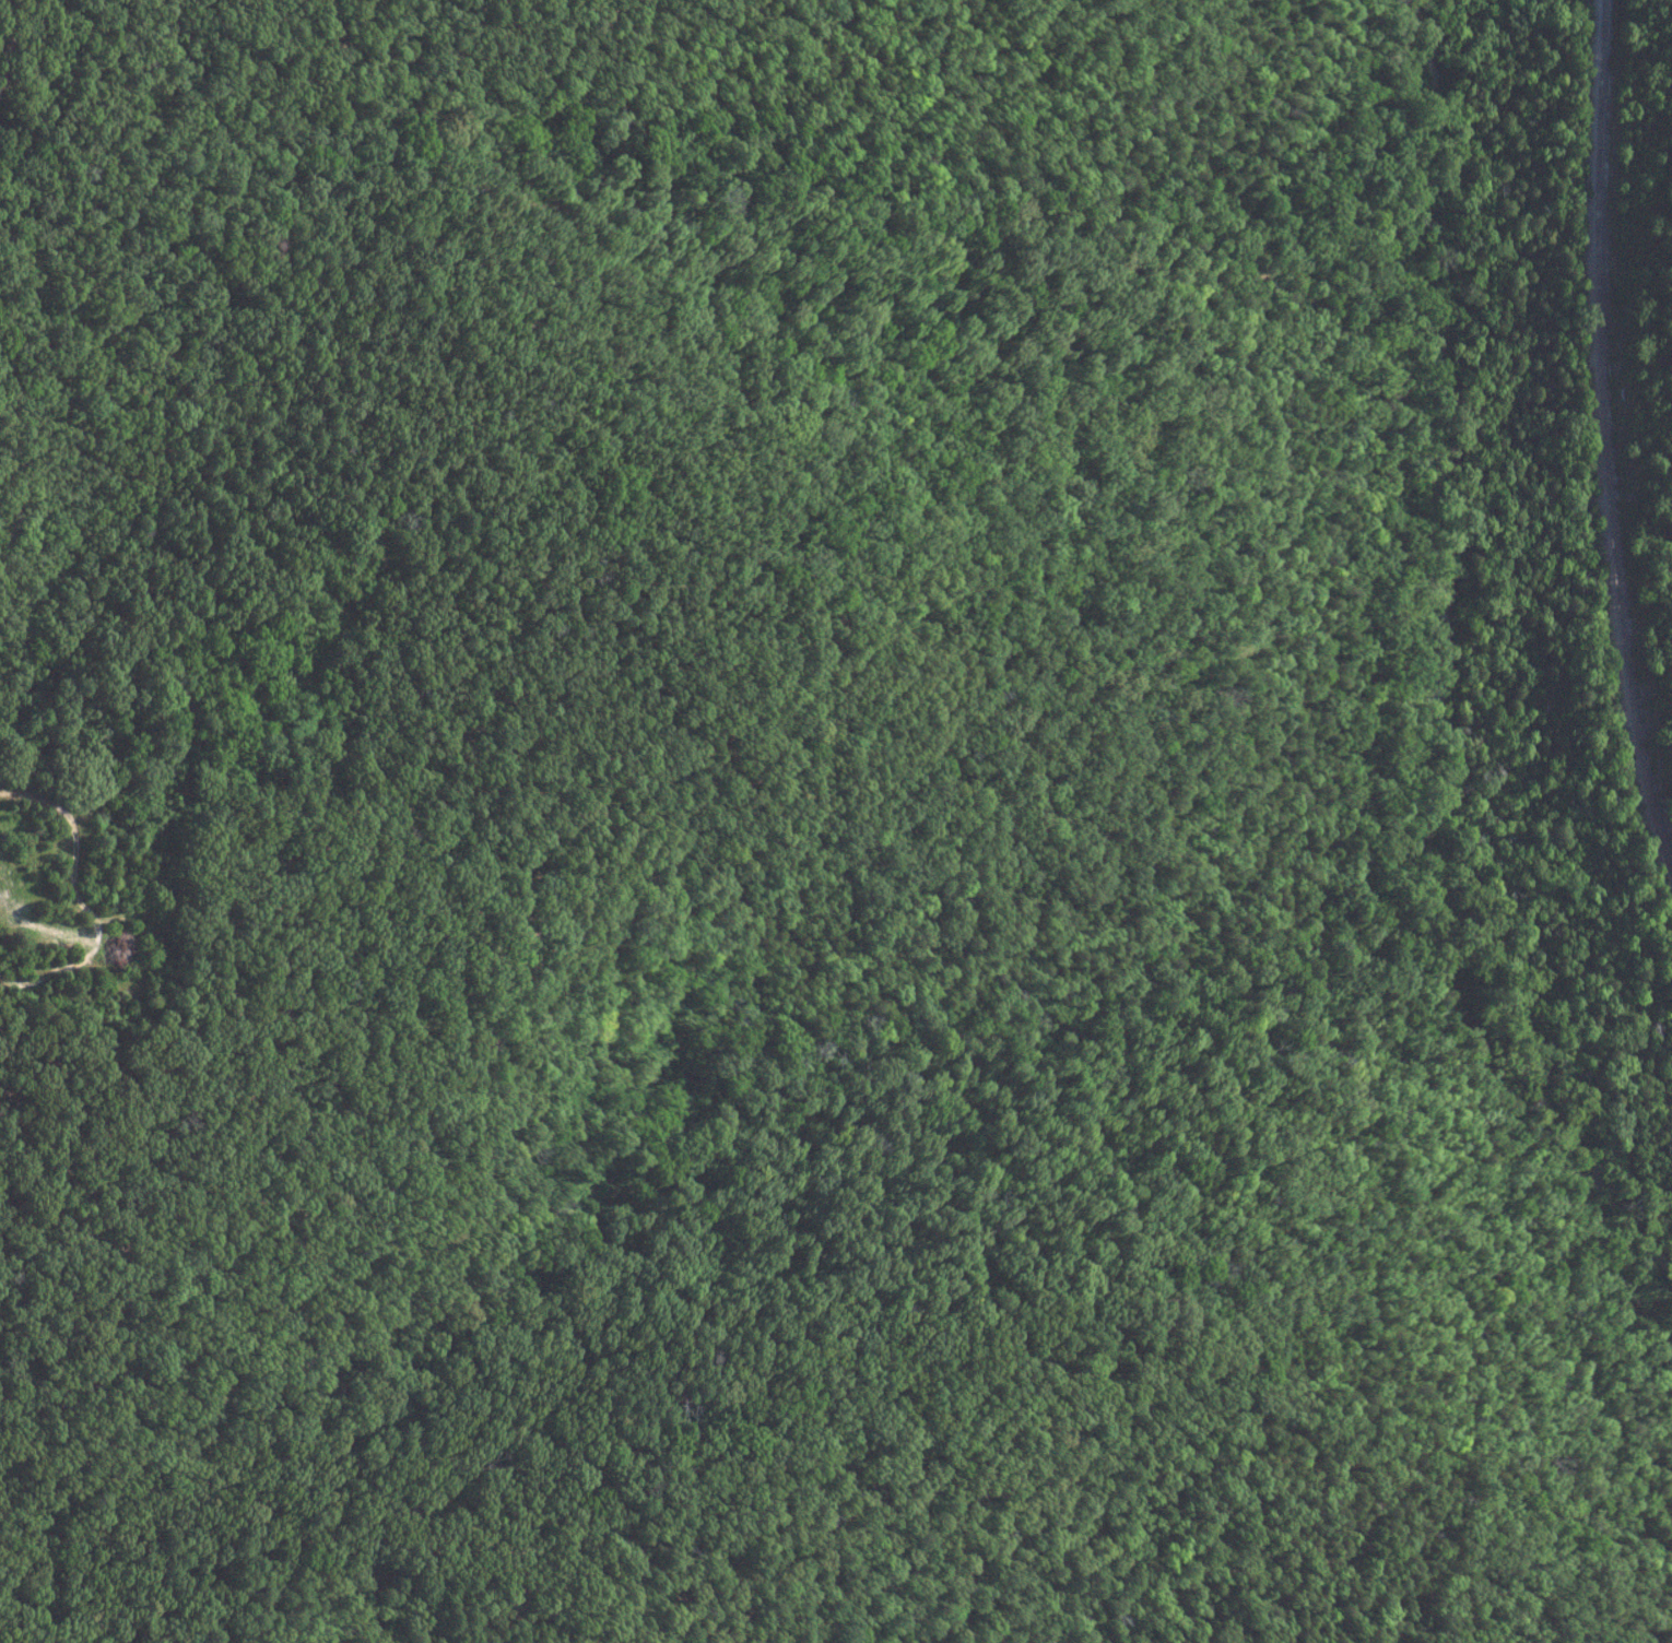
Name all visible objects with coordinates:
railway: (1578, 486)

